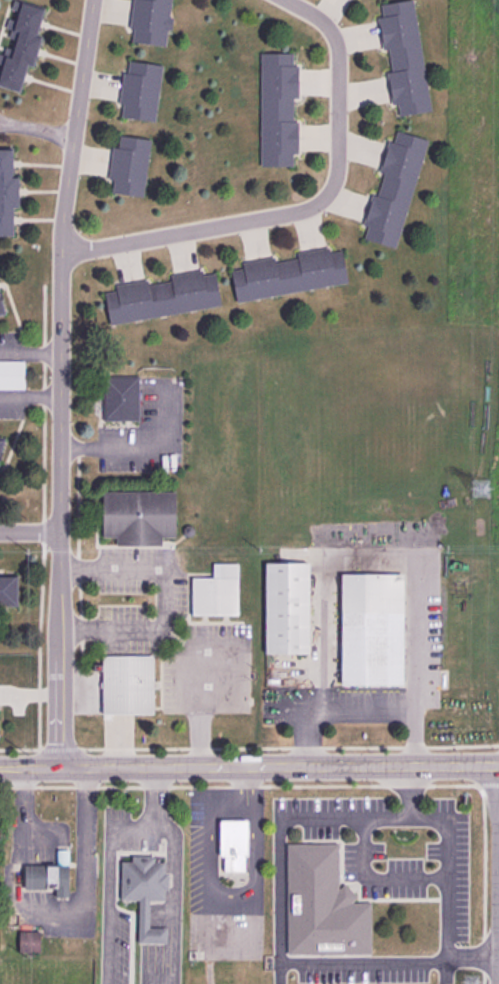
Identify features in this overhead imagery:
building: (151, 21)
building: (19, 44)
building: (402, 56)
building: (140, 89)
building: (276, 110)
building: (129, 165)
building: (392, 187)
building: (6, 191)
road: (308, 210)
building: (288, 273)
building: (161, 295)
road: (31, 353)
building: (12, 374)
road: (61, 383)
building: (123, 397)
road: (30, 398)
road: (118, 445)
building: (1, 446)
power tower: (485, 491)
road: (43, 515)
building: (140, 515)
road: (28, 535)
building: (9, 589)
building: (218, 590)
road: (166, 594)
building: (288, 606)
building: (374, 628)
building: (129, 684)
road: (198, 705)
road: (354, 711)
road: (249, 747)
road: (278, 767)
road: (29, 769)
road: (249, 786)
road: (151, 790)
road: (409, 791)
road: (279, 841)
building: (234, 843)
parking lot: (392, 869)
road: (497, 874)
building: (51, 875)
road: (376, 877)
road: (103, 885)
building: (147, 891)
road: (171, 894)
building: (324, 903)
building: (31, 940)

